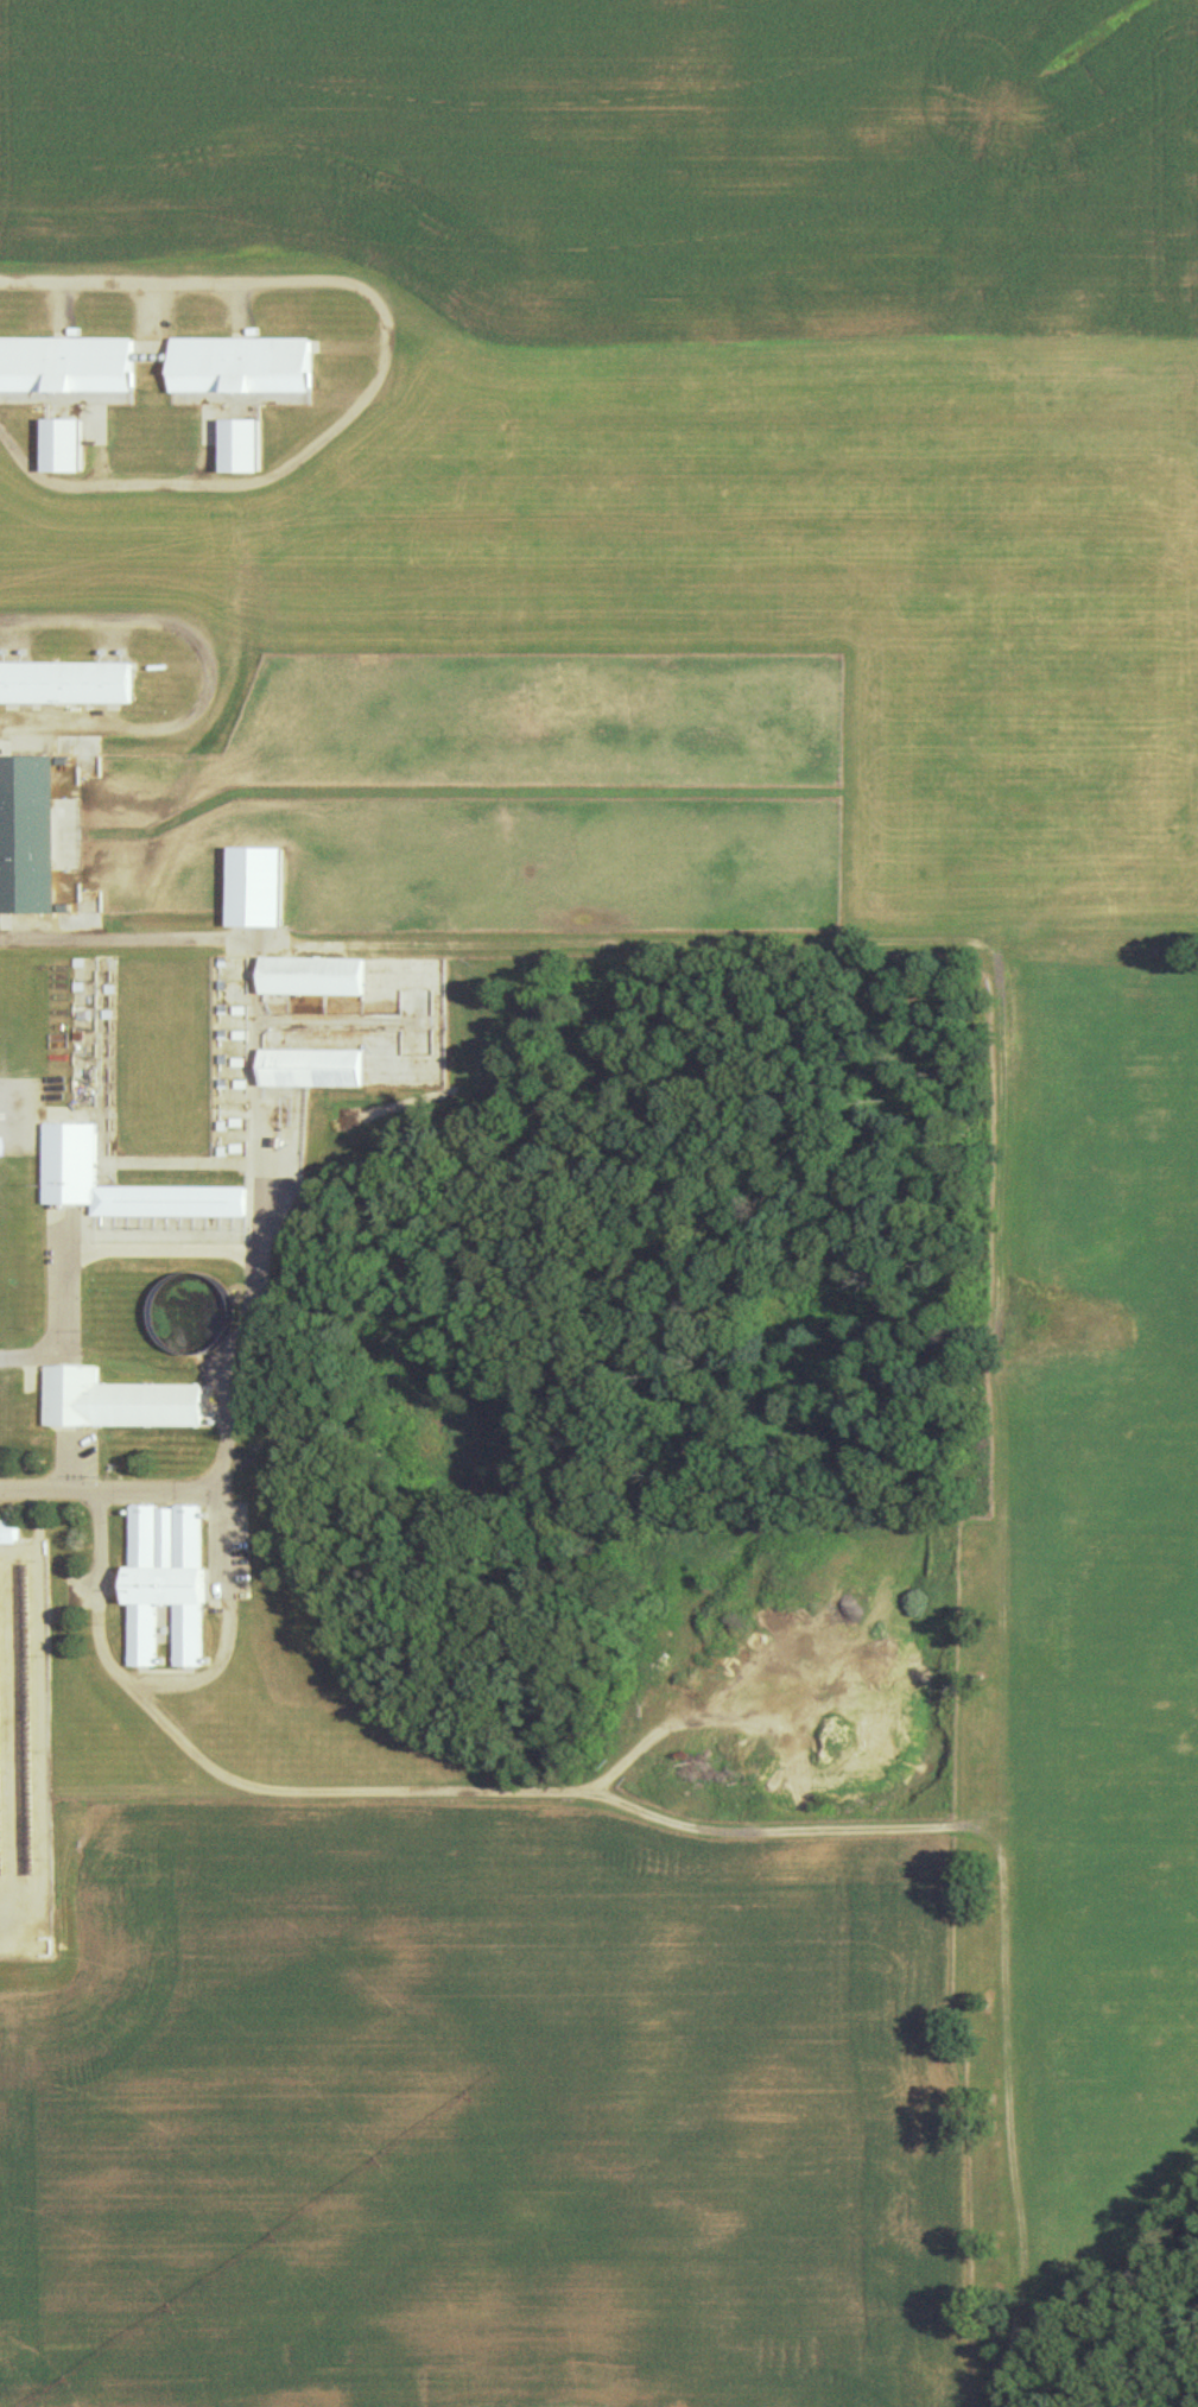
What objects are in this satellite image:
crop: (634, 161)
building: (65, 367)
road: (395, 367)
building: (240, 369)
building: (63, 443)
building: (242, 444)
crop: (773, 579)
road: (221, 670)
building: (64, 686)
building: (27, 838)
building: (256, 891)
building: (63, 913)
road: (127, 937)
building: (313, 978)
building: (312, 1071)
building: (70, 1159)
road: (75, 1326)
building: (114, 1406)
road: (49, 1493)
building: (7, 1529)
building: (164, 1583)
road: (215, 1660)
road: (357, 2069)

